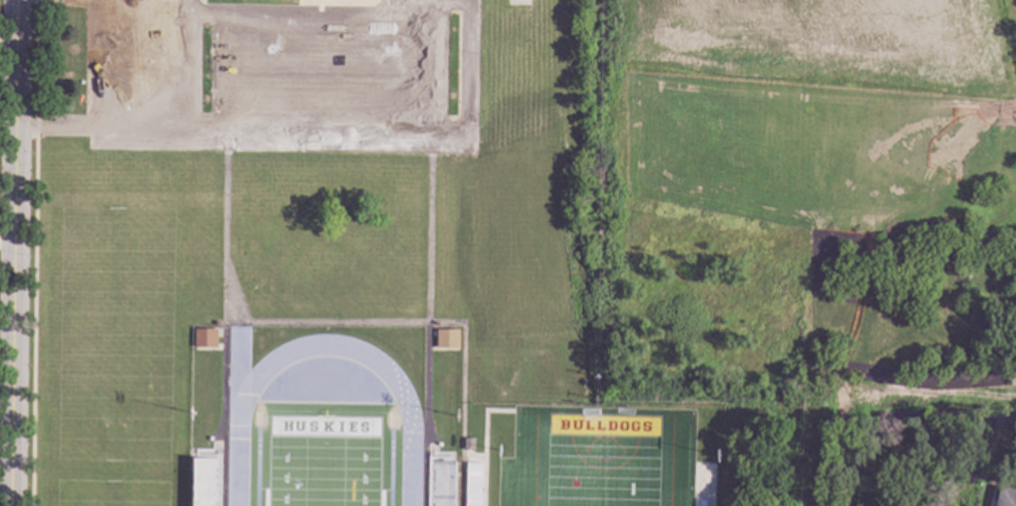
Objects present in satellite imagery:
road: (148, 0)
road: (188, 0)
road: (468, 2)
road: (338, 3)
road: (200, 8)
road: (329, 18)
road: (107, 65)
road: (150, 65)
road: (186, 65)
road: (425, 68)
road: (467, 69)
road: (229, 74)
road: (270, 74)
road: (386, 74)
road: (309, 75)
road: (347, 75)
parking lot: (261, 81)
road: (1012, 105)
road: (59, 130)
road: (286, 132)
park: (815, 217)
road: (12, 253)
building: (215, 322)
building: (435, 324)
park: (114, 334)
building: (203, 337)
building: (446, 339)
road: (830, 444)
park: (601, 460)
park: (323, 461)
park: (110, 493)
building: (1005, 498)

